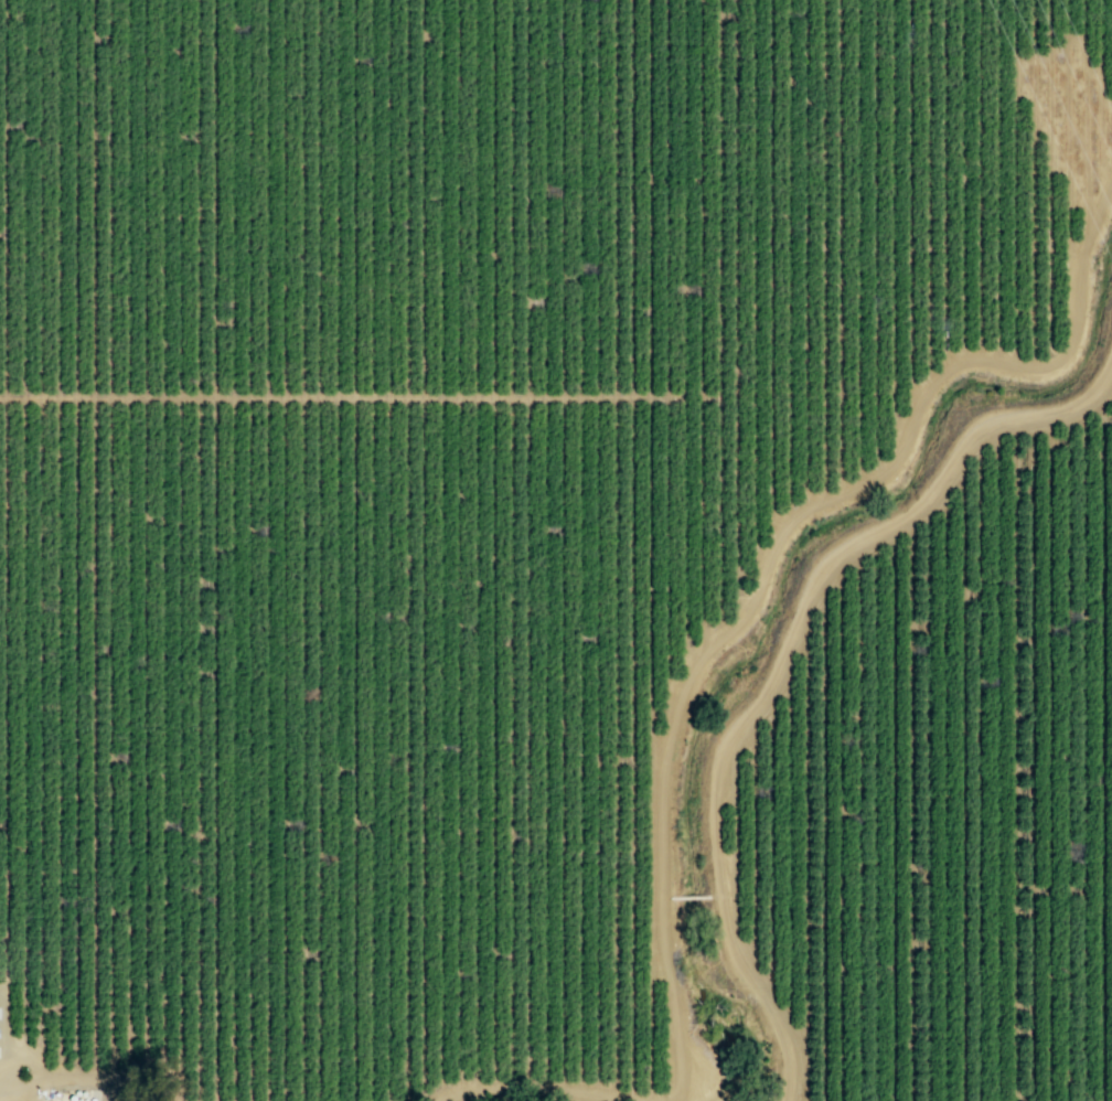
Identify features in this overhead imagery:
road: (340, 396)
road: (1103, 396)

